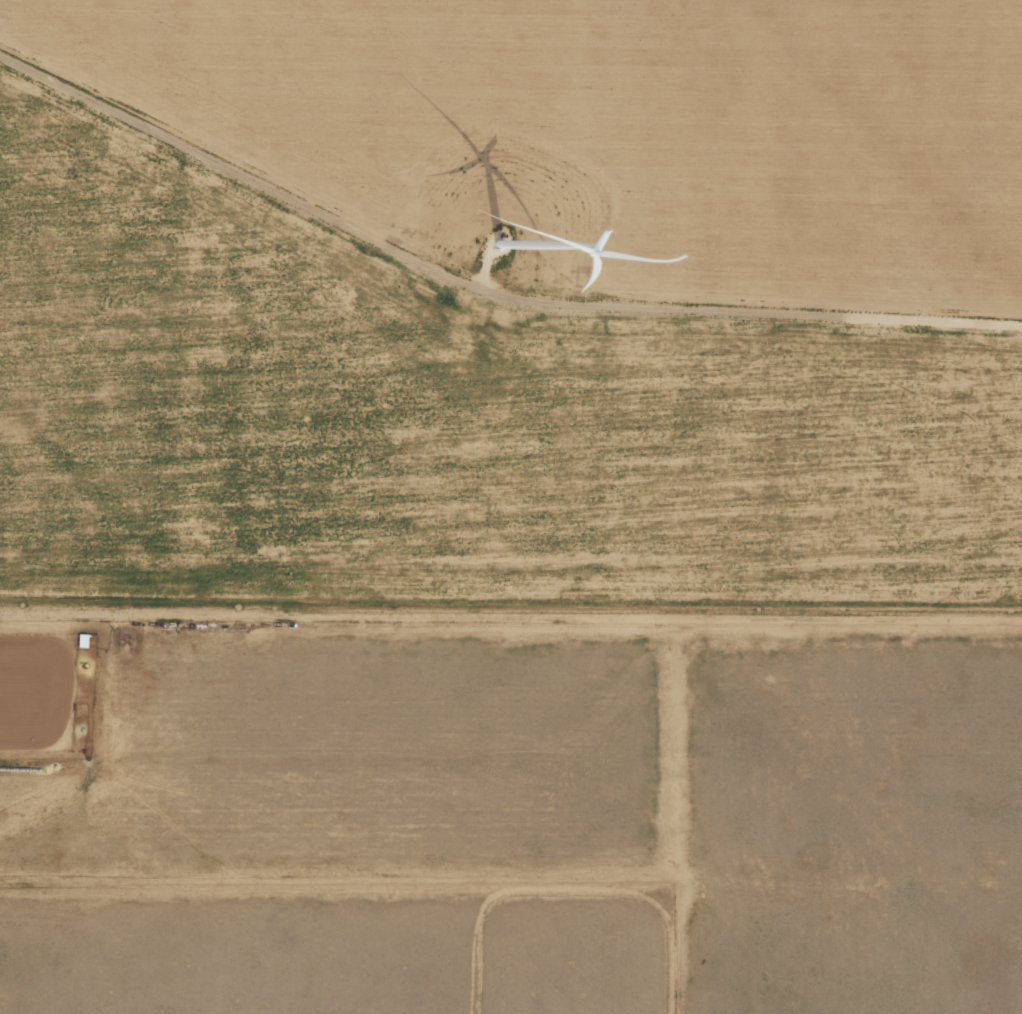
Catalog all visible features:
wind turbine: (500, 247)

